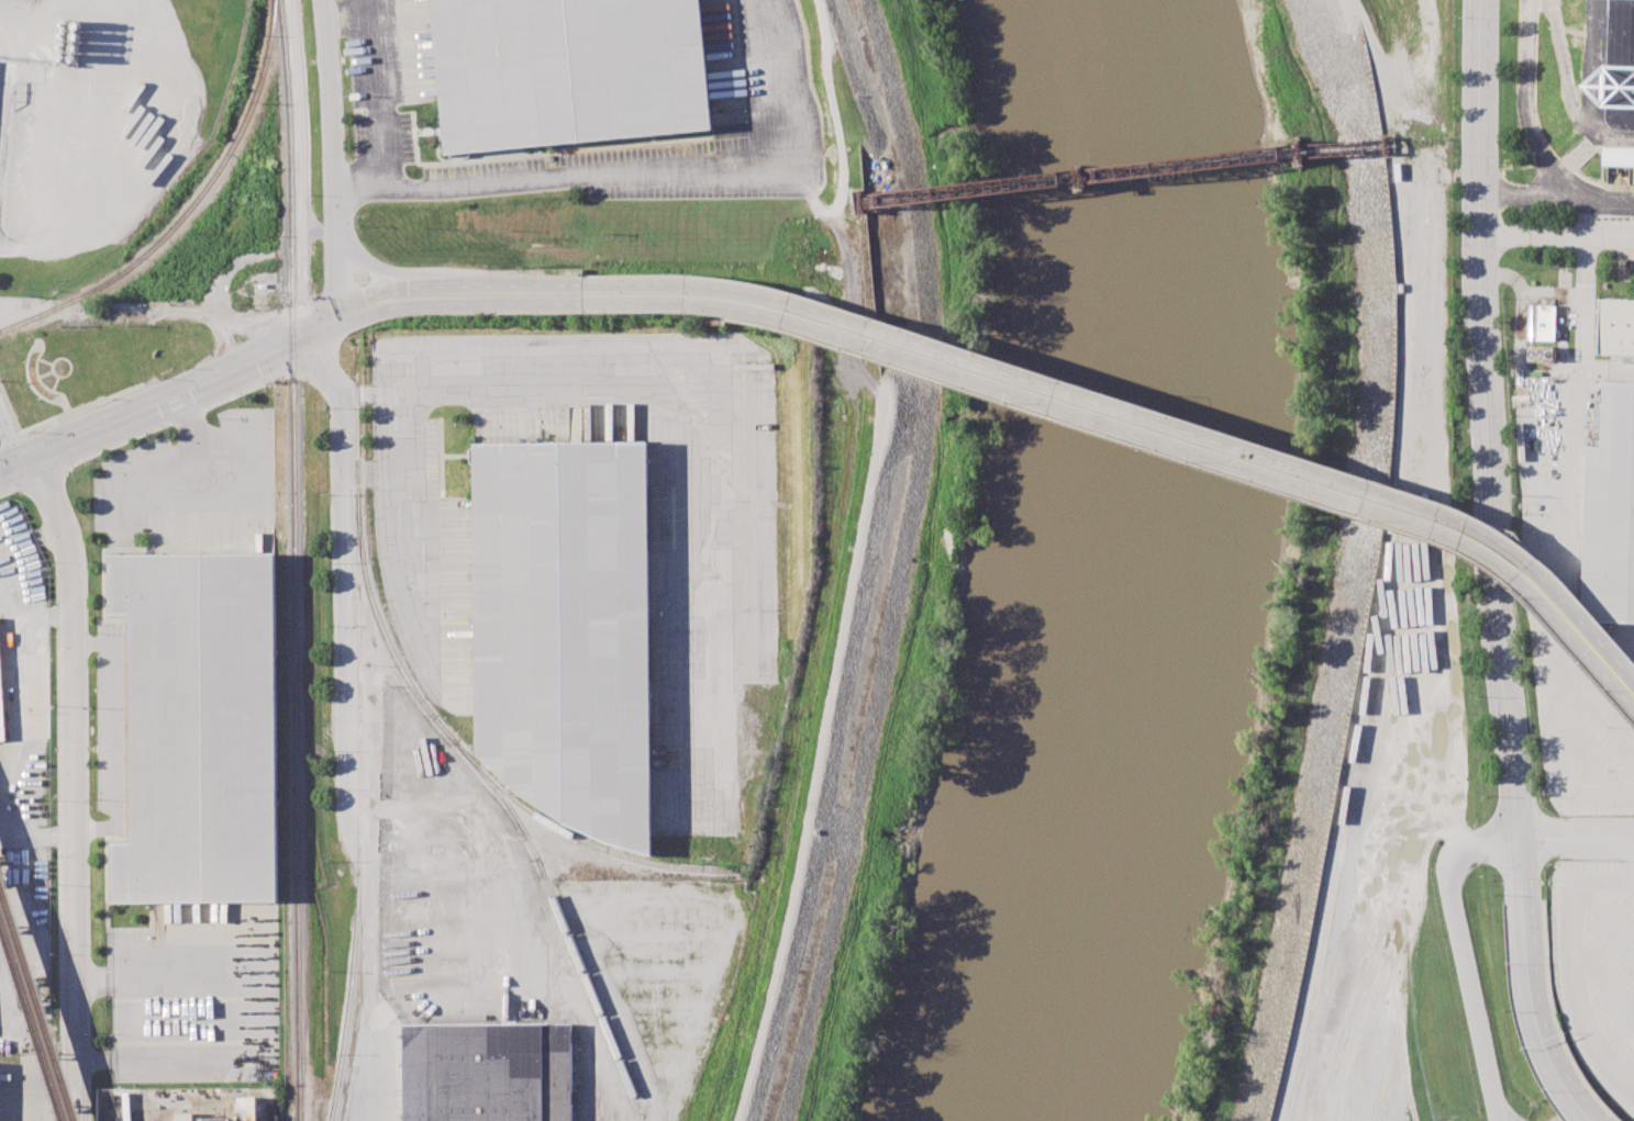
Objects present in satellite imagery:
road: (346, 14)
building: (1618, 68)
stadium: (1618, 68)
building: (566, 71)
parking lot: (388, 76)
road: (782, 80)
road: (1586, 80)
road: (2, 88)
parking lot: (759, 90)
road: (378, 93)
road: (1525, 102)
road: (1571, 102)
road: (837, 121)
road: (332, 155)
building: (1618, 156)
road: (301, 169)
road: (588, 176)
railway: (1120, 176)
road: (1404, 180)
railway: (203, 190)
road: (1556, 192)
road: (1557, 237)
road: (426, 272)
street lamp: (582, 278)
road: (460, 285)
street lamp: (748, 285)
road: (464, 304)
road: (1583, 310)
road: (180, 311)
street lamp: (664, 314)
street lamp: (497, 315)
railway: (21, 322)
building: (1538, 322)
building: (1614, 326)
street lamp: (351, 333)
street lamp: (927, 338)
street lamp: (838, 348)
building: (1545, 354)
road: (665, 372)
street lamp: (164, 379)
road: (175, 394)
road: (1080, 394)
street lamp: (1104, 395)
street lamp: (1008, 403)
road: (1074, 414)
road: (11, 437)
street lamp: (1188, 462)
street lamp: (1458, 512)
building: (1610, 512)
street lamp: (1369, 522)
road: (344, 537)
railway: (293, 560)
river: (1124, 563)
road: (1491, 568)
street lamp: (1550, 574)
street lamp: (1522, 601)
road: (1429, 615)
building: (565, 632)
road: (1590, 643)
road: (1555, 690)
street lamp: (1604, 692)
building: (1, 721)
building: (196, 730)
parking lot: (1580, 730)
railway: (359, 737)
railway: (467, 756)
road: (1587, 762)
road: (833, 770)
road: (73, 784)
railway: (581, 841)
road: (1577, 843)
road: (1480, 844)
road: (1633, 885)
road: (1604, 918)
road: (1572, 964)
road: (1602, 985)
road: (1474, 990)
parking lot: (196, 994)
railway: (40, 997)
road: (390, 1001)
railway: (35, 1012)
road: (230, 1016)
building: (487, 1073)
parking lot: (1539, 1114)
railway: (278, 1118)
road: (1509, 1118)

